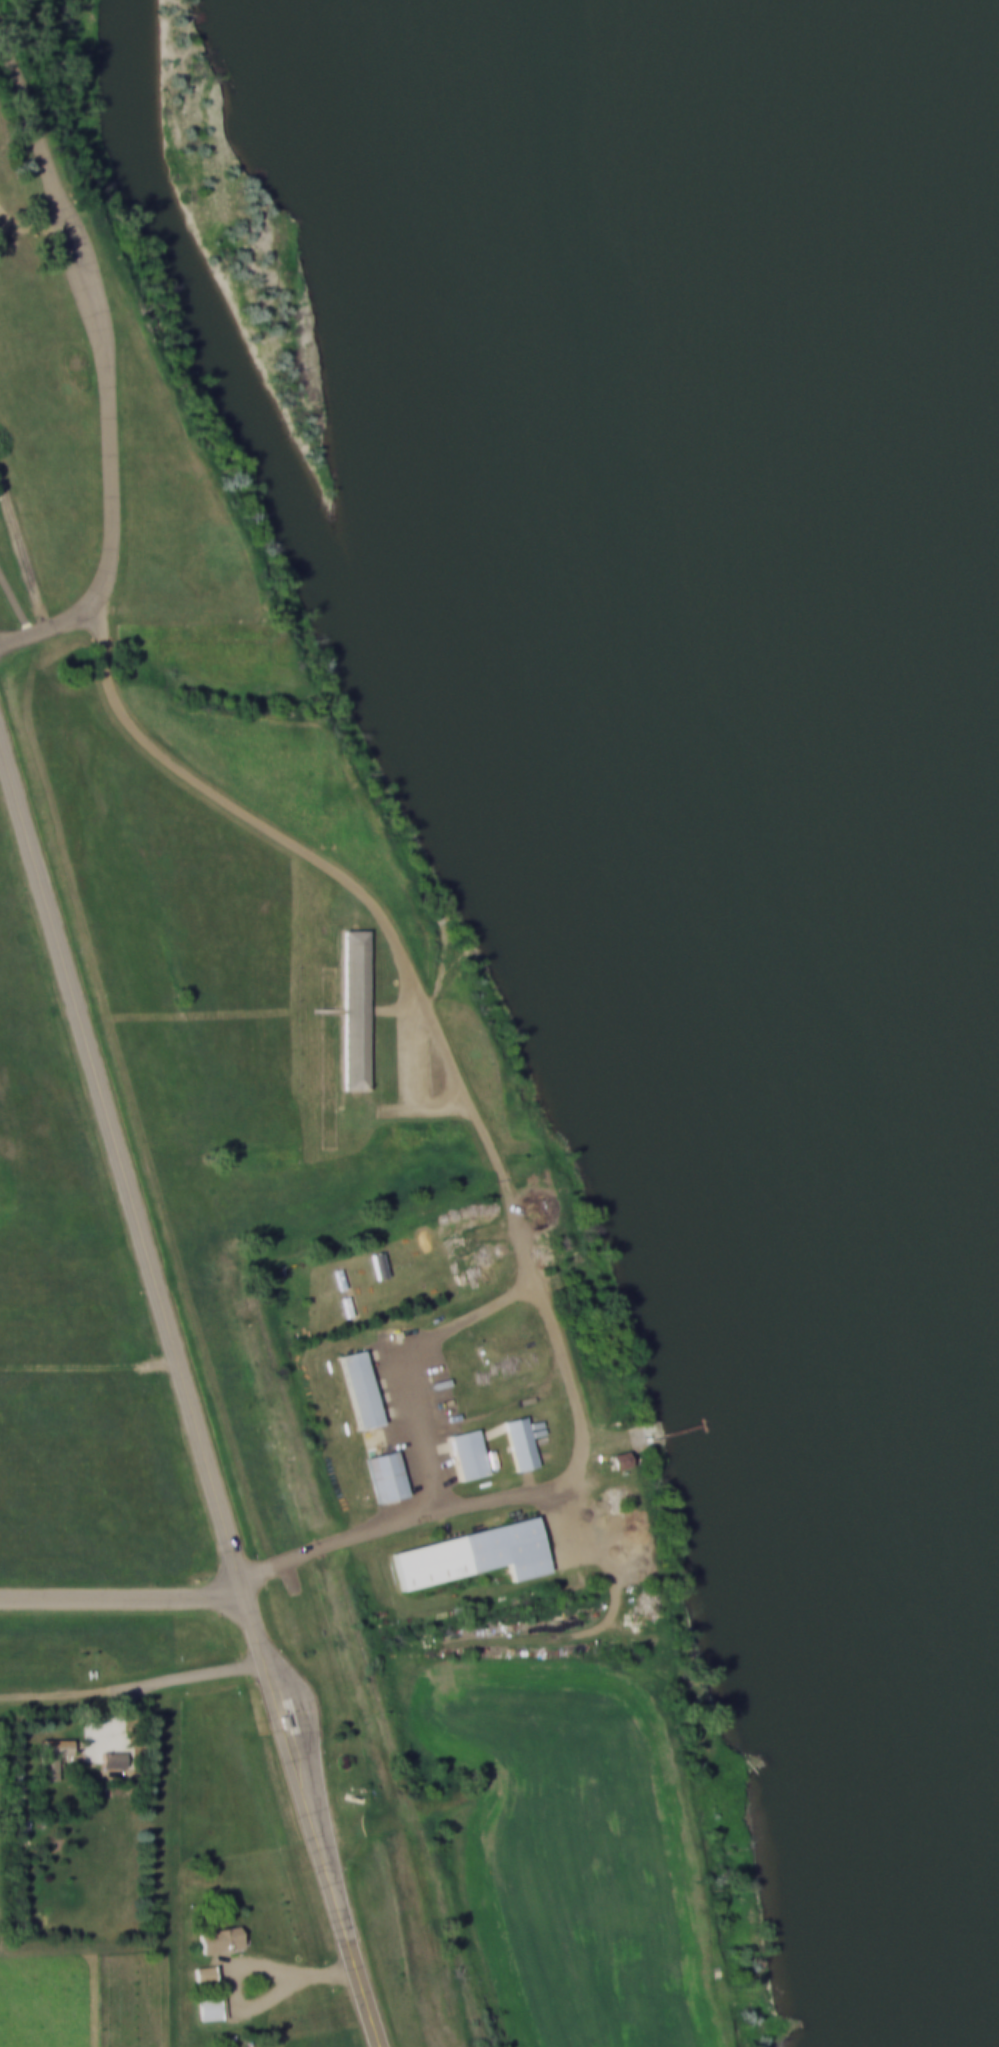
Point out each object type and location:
road: (30, 223)
river: (593, 224)
river: (821, 224)
road: (105, 361)
river: (883, 755)
building: (353, 1007)
park: (265, 1053)
road: (174, 1216)
road: (530, 1262)
railway: (228, 1264)
building: (382, 1265)
building: (343, 1278)
building: (350, 1306)
road: (395, 1355)
building: (364, 1390)
road: (186, 1395)
building: (523, 1443)
building: (472, 1454)
building: (624, 1460)
building: (391, 1476)
building: (475, 1554)
road: (133, 1690)
building: (287, 1720)
building: (50, 1756)
building: (112, 1759)
building: (223, 1939)
road: (240, 1968)
building: (207, 1973)
building: (211, 2007)

